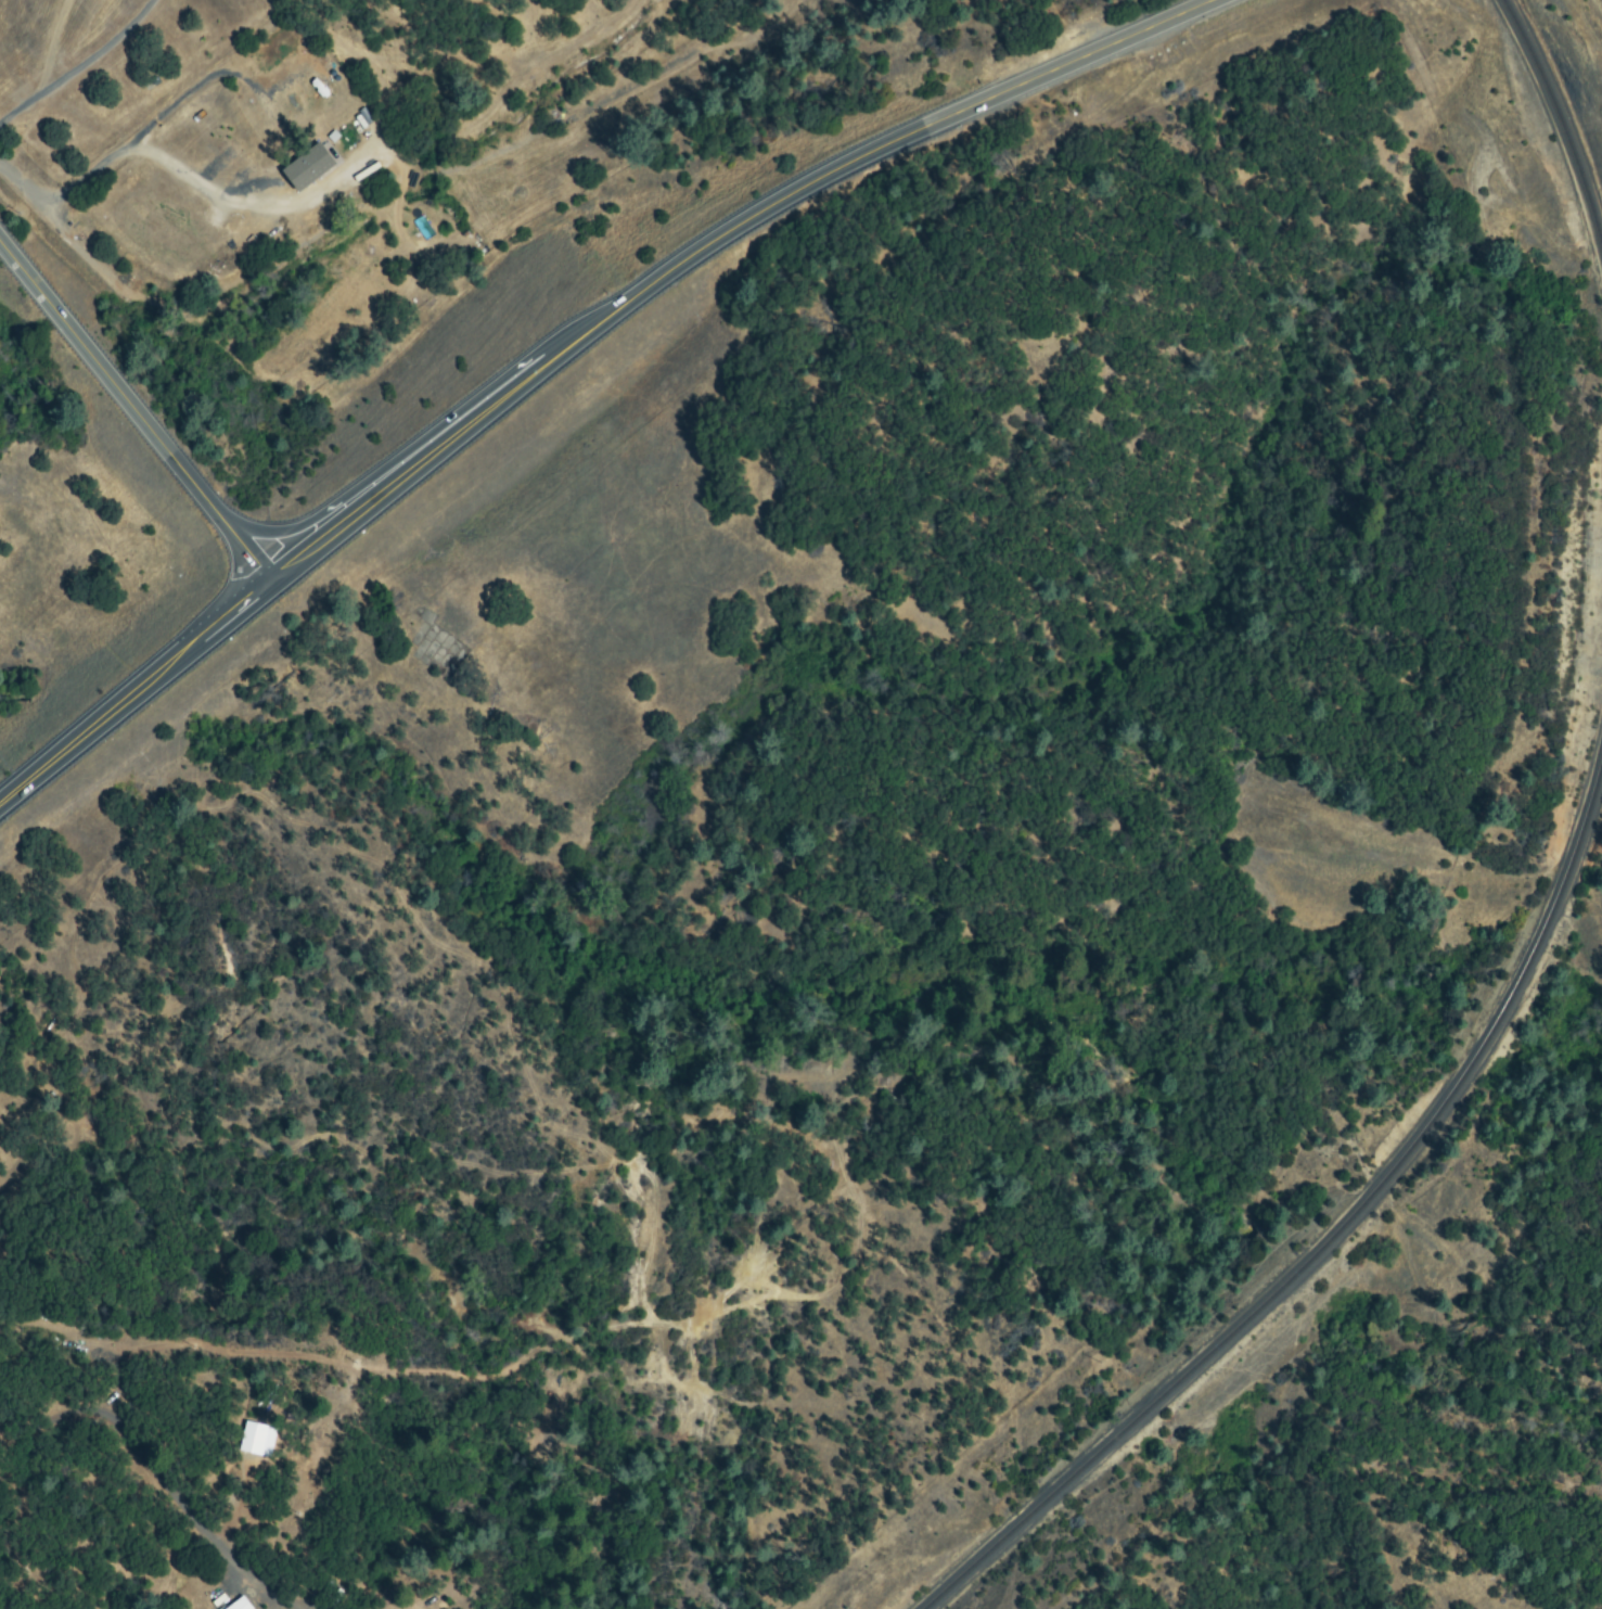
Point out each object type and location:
railway: (1560, 113)
building: (306, 168)
road: (564, 341)
road: (132, 416)
railway: (1331, 1241)
building: (239, 1605)

